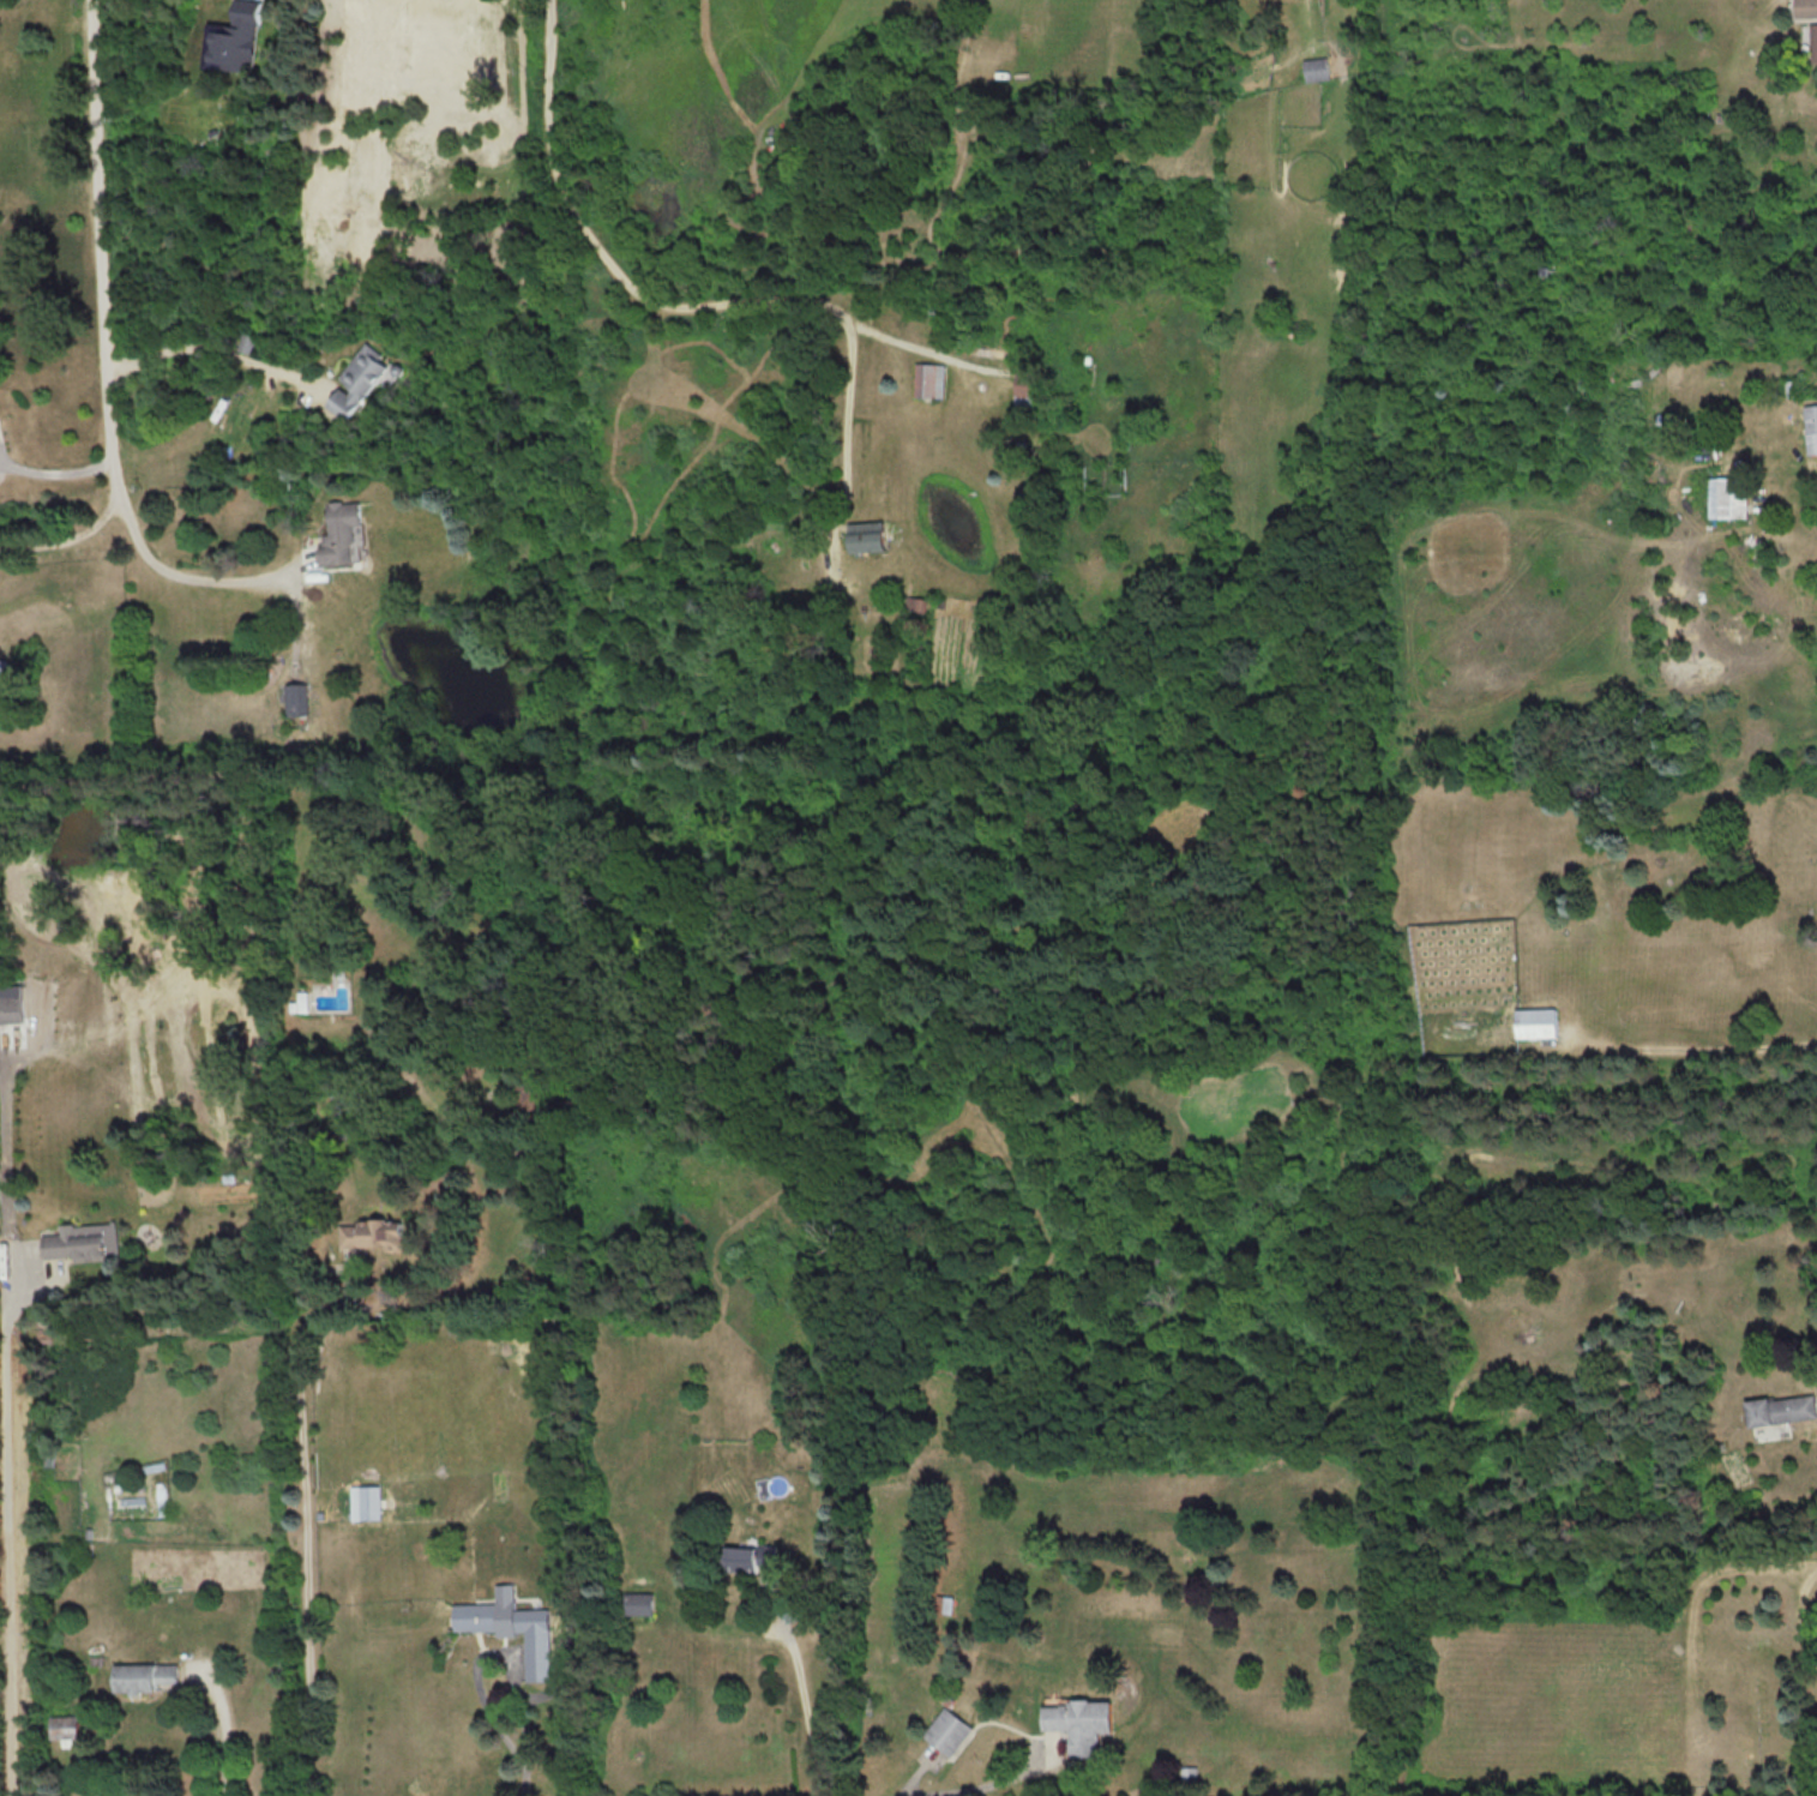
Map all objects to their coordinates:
building: (1806, 7)
building: (1813, 41)
building: (1316, 70)
road: (661, 306)
road: (198, 346)
building: (928, 379)
building: (356, 382)
building: (1028, 389)
road: (100, 397)
road: (832, 410)
building: (1811, 428)
road: (52, 473)
building: (1727, 497)
building: (342, 534)
building: (868, 535)
road: (62, 536)
building: (1, 669)
building: (296, 698)
building: (300, 1003)
building: (12, 1009)
building: (1536, 1023)
building: (374, 1235)
building: (73, 1247)
building: (1782, 1410)
building: (367, 1502)
road: (301, 1530)
road: (8, 1540)
building: (750, 1557)
building: (638, 1603)
road: (1803, 1610)
road: (486, 1653)
building: (537, 1656)
park: (1746, 1674)
building: (144, 1676)
road: (800, 1688)
road: (224, 1723)
building: (1081, 1723)
building: (64, 1726)
building: (949, 1731)
road: (521, 1767)
road: (982, 1783)

